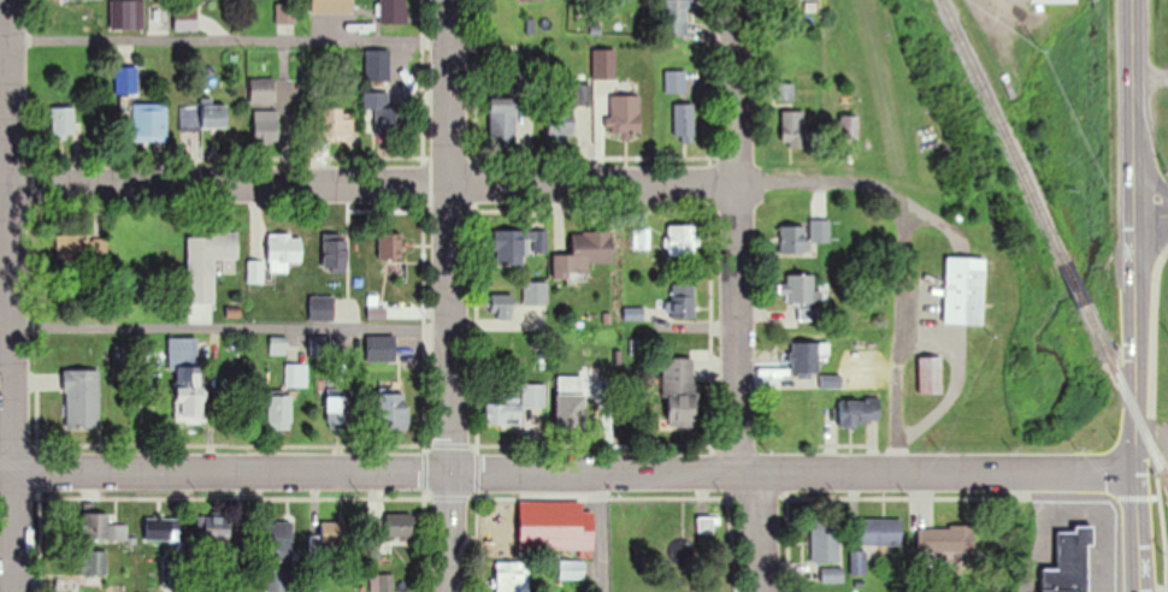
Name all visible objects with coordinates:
building: (531, 0)
building: (1054, 1)
building: (332, 6)
building: (393, 11)
building: (285, 13)
building: (130, 14)
building: (676, 17)
building: (185, 18)
road: (228, 39)
building: (377, 64)
building: (604, 64)
road: (1133, 64)
building: (125, 78)
building: (676, 81)
building: (261, 82)
building: (566, 111)
building: (376, 113)
building: (213, 114)
building: (625, 114)
building: (188, 117)
building: (503, 118)
building: (151, 119)
building: (63, 120)
building: (684, 122)
building: (338, 123)
building: (266, 125)
building: (795, 126)
building: (849, 126)
railway: (1003, 129)
road: (1149, 161)
road: (1134, 173)
road: (596, 179)
road: (1151, 217)
building: (803, 235)
building: (642, 237)
road: (738, 237)
building: (683, 239)
building: (391, 244)
building: (518, 244)
building: (72, 247)
building: (284, 249)
building: (213, 253)
building: (334, 253)
building: (584, 253)
railway: (1076, 282)
building: (535, 292)
building: (803, 294)
road: (450, 295)
building: (955, 295)
road: (8, 296)
building: (683, 300)
building: (502, 304)
building: (320, 307)
road: (230, 325)
building: (381, 347)
building: (806, 356)
building: (931, 374)
building: (187, 377)
building: (832, 380)
building: (679, 391)
railway: (1125, 395)
building: (82, 398)
building: (571, 401)
building: (514, 405)
road: (1137, 405)
building: (393, 410)
building: (860, 410)
building: (279, 413)
building: (338, 413)
road: (568, 473)
building: (92, 525)
building: (400, 525)
building: (556, 525)
building: (707, 525)
building: (160, 528)
building: (216, 528)
building: (879, 532)
road: (604, 533)
road: (760, 533)
building: (278, 538)
building: (332, 539)
building: (944, 539)
building: (826, 541)
building: (93, 561)
building: (1056, 561)
building: (572, 569)
building: (513, 576)
building: (382, 582)

